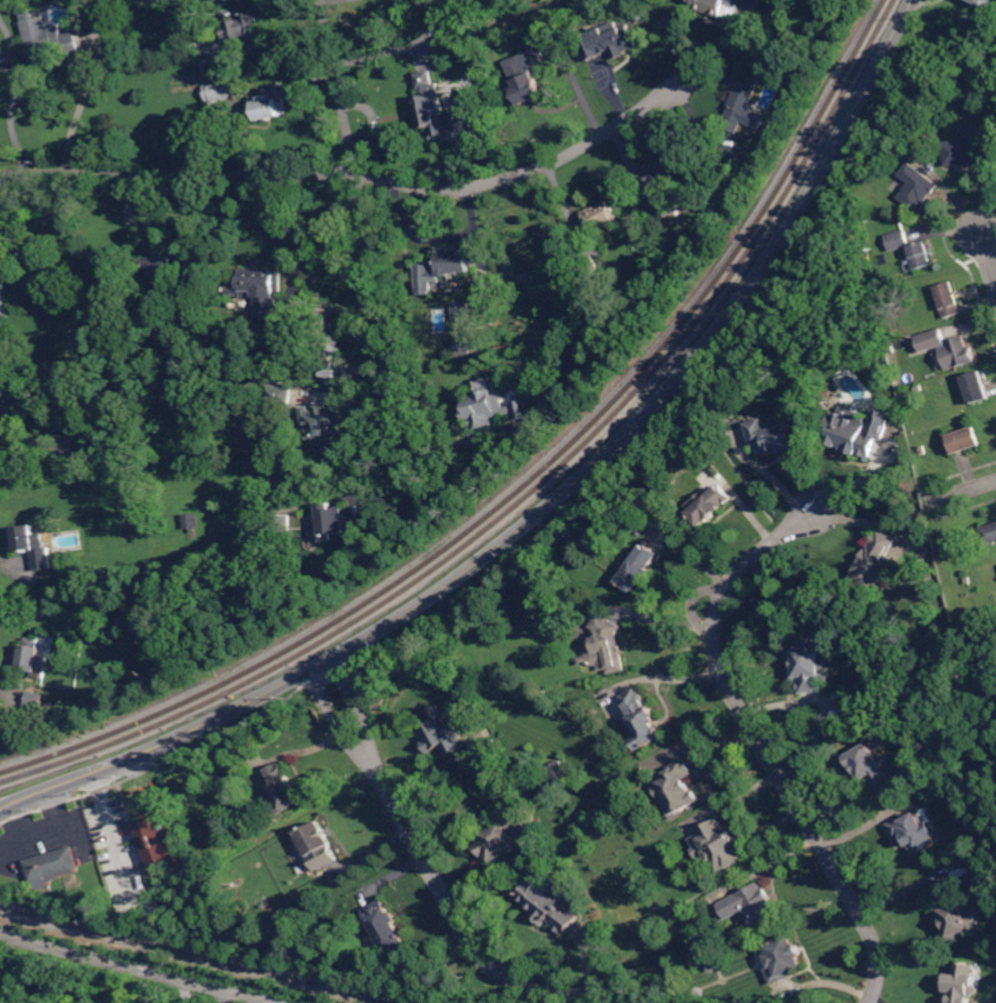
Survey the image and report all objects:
road: (927, 2)
building: (986, 2)
building: (715, 7)
building: (249, 23)
road: (200, 24)
building: (612, 39)
building: (49, 41)
road: (719, 51)
building: (212, 68)
building: (530, 79)
building: (220, 92)
road: (12, 98)
building: (742, 100)
building: (273, 106)
building: (436, 111)
road: (77, 113)
building: (966, 150)
road: (351, 175)
building: (919, 185)
building: (662, 190)
building: (601, 216)
road: (994, 237)
building: (899, 240)
building: (871, 247)
road: (373, 249)
building: (922, 255)
road: (989, 262)
building: (592, 264)
building: (444, 268)
building: (166, 274)
building: (28, 287)
building: (261, 290)
building: (86, 296)
building: (3, 299)
building: (950, 299)
building: (462, 311)
building: (143, 320)
building: (932, 338)
building: (330, 341)
building: (2, 351)
building: (464, 352)
building: (963, 352)
building: (147, 362)
building: (977, 386)
building: (280, 392)
building: (18, 400)
building: (494, 406)
building: (223, 415)
building: (71, 425)
building: (323, 428)
building: (857, 431)
building: (774, 436)
road: (24, 437)
building: (967, 439)
railway: (528, 484)
railway: (534, 490)
road: (959, 493)
building: (709, 505)
road: (549, 506)
building: (136, 511)
building: (191, 521)
building: (334, 521)
building: (281, 522)
building: (990, 534)
building: (31, 543)
building: (875, 562)
road: (2, 563)
building: (639, 568)
building: (969, 580)
building: (606, 646)
building: (578, 649)
building: (33, 658)
building: (811, 663)
road: (4, 688)
building: (35, 699)
building: (644, 719)
building: (446, 731)
park: (988, 735)
road: (762, 741)
building: (872, 768)
building: (558, 771)
building: (285, 787)
building: (678, 787)
road: (109, 824)
building: (914, 831)
building: (503, 836)
building: (159, 841)
building: (317, 846)
building: (720, 846)
building: (53, 867)
road: (436, 874)
building: (752, 904)
building: (549, 906)
building: (955, 911)
building: (387, 927)
railway: (193, 955)
building: (784, 959)
building: (714, 965)
road: (145, 971)
building: (963, 982)
road: (283, 1002)

